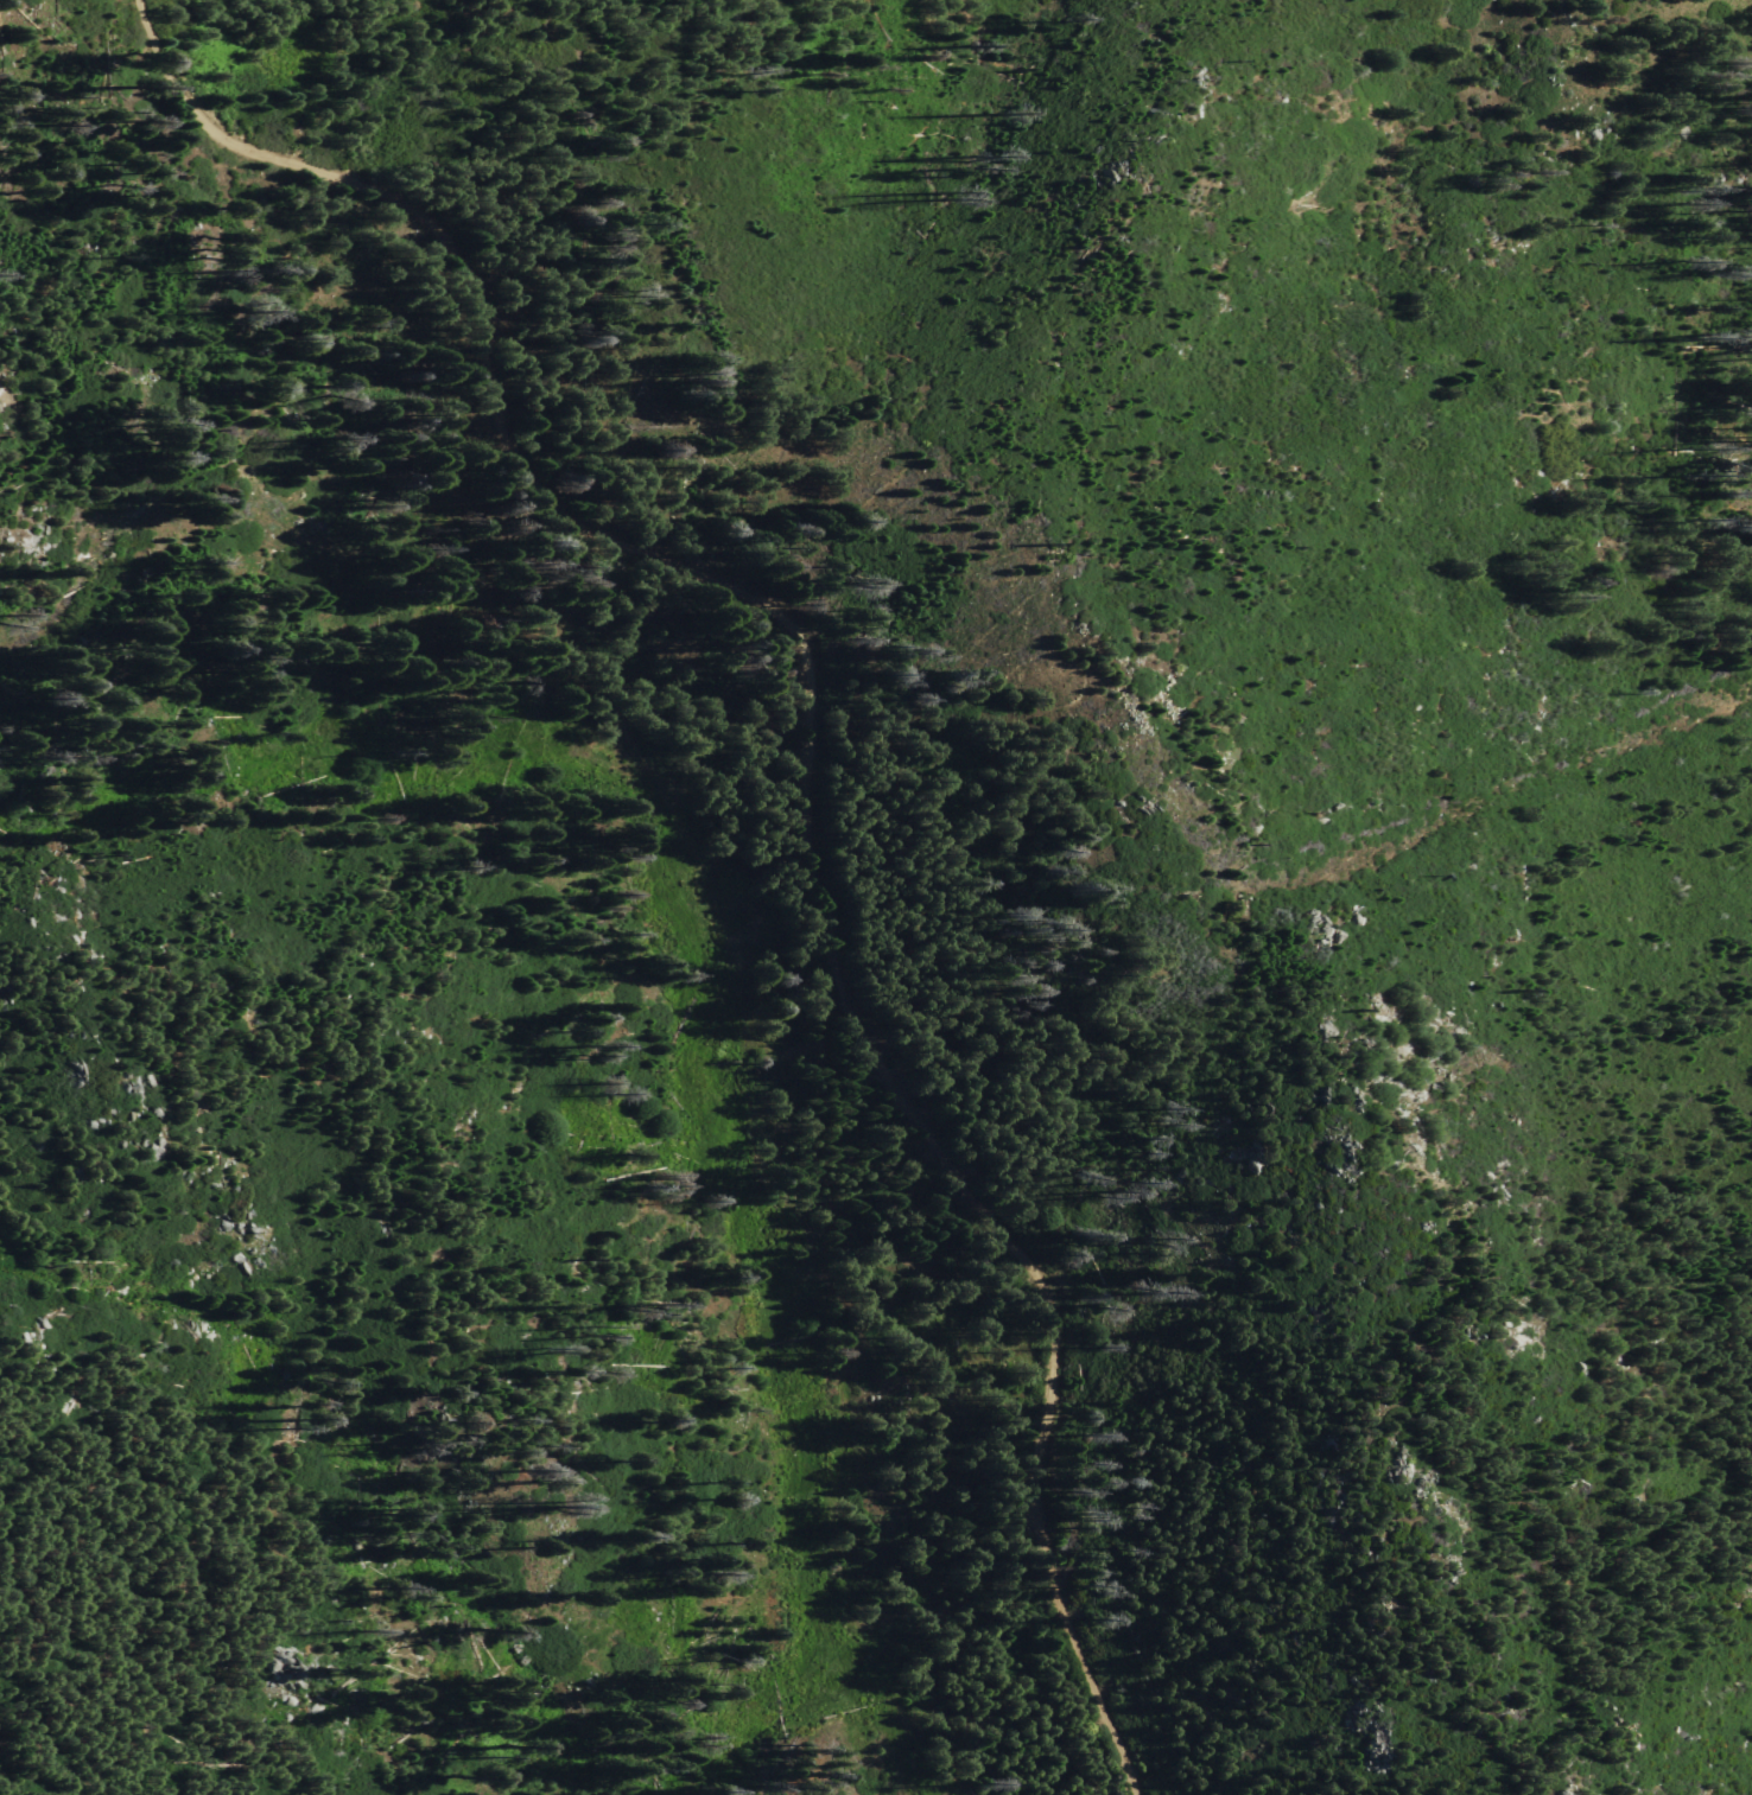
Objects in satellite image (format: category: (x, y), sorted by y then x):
road: (239, 443)
road: (801, 762)

